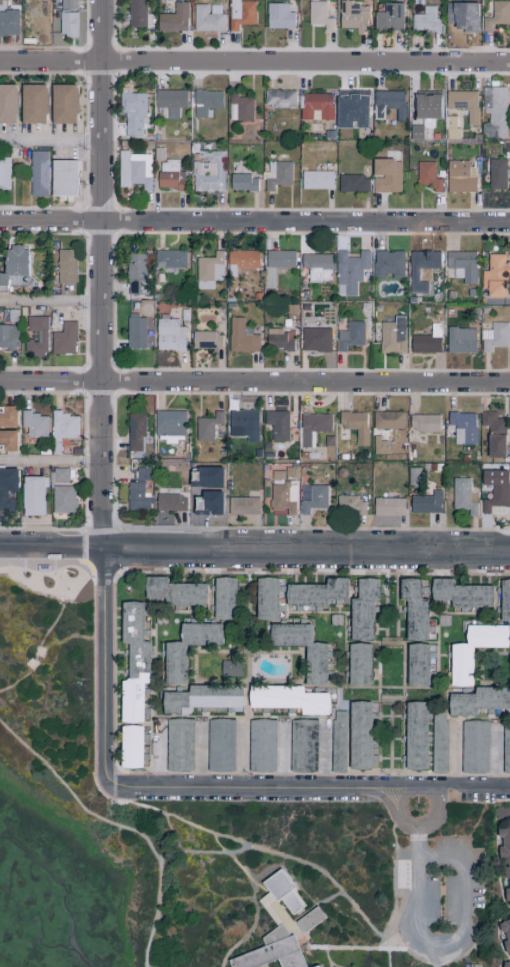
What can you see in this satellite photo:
building: (239, 13)
building: (136, 14)
building: (317, 15)
building: (495, 15)
building: (277, 16)
building: (350, 16)
building: (66, 18)
building: (206, 18)
building: (387, 18)
building: (171, 19)
building: (424, 20)
building: (458, 21)
building: (8, 23)
building: (31, 25)
road: (255, 61)
building: (277, 99)
building: (169, 101)
building: (204, 103)
building: (6, 104)
building: (62, 104)
building: (387, 104)
building: (462, 104)
building: (31, 105)
building: (425, 105)
building: (314, 106)
building: (238, 108)
building: (350, 110)
building: (492, 111)
building: (131, 113)
building: (414, 132)
road: (53, 139)
building: (130, 170)
building: (3, 172)
building: (207, 172)
building: (36, 173)
building: (494, 174)
building: (168, 175)
building: (275, 175)
building: (385, 176)
building: (426, 176)
building: (458, 176)
building: (62, 178)
building: (315, 180)
building: (242, 182)
building: (351, 183)
road: (254, 222)
building: (168, 258)
building: (239, 260)
building: (12, 263)
building: (274, 264)
building: (386, 264)
building: (313, 265)
building: (460, 265)
building: (63, 266)
building: (419, 267)
building: (207, 270)
building: (348, 271)
building: (134, 273)
road: (106, 275)
building: (492, 275)
road: (53, 299)
building: (134, 331)
building: (167, 334)
building: (348, 335)
building: (390, 335)
building: (7, 336)
building: (35, 336)
building: (492, 336)
building: (239, 337)
building: (62, 338)
building: (276, 339)
building: (313, 339)
building: (459, 339)
building: (204, 340)
building: (425, 340)
road: (255, 382)
building: (7, 416)
building: (386, 420)
building: (422, 422)
building: (33, 424)
building: (168, 424)
building: (241, 424)
building: (275, 424)
building: (62, 425)
building: (353, 425)
building: (205, 426)
building: (310, 427)
building: (461, 427)
building: (134, 434)
building: (492, 434)
building: (7, 440)
building: (377, 446)
road: (52, 460)
building: (58, 475)
building: (6, 486)
building: (137, 491)
building: (493, 491)
building: (30, 495)
building: (460, 495)
building: (311, 497)
building: (281, 498)
building: (61, 499)
building: (169, 502)
building: (423, 502)
building: (348, 505)
building: (241, 506)
building: (386, 506)
road: (52, 550)
road: (307, 550)
road: (52, 574)
road: (44, 588)
building: (173, 591)
building: (461, 593)
building: (314, 594)
building: (223, 597)
building: (265, 598)
building: (504, 599)
building: (362, 608)
building: (412, 609)
road: (44, 638)
building: (316, 656)
building: (132, 661)
building: (173, 664)
building: (357, 664)
building: (416, 664)
building: (459, 665)
road: (105, 667)
building: (228, 667)
building: (508, 670)
building: (200, 698)
building: (285, 699)
building: (478, 700)
building: (358, 735)
building: (414, 735)
building: (336, 741)
building: (437, 742)
building: (177, 744)
building: (218, 745)
building: (259, 745)
building: (300, 745)
building: (130, 746)
building: (472, 747)
building: (505, 748)
road: (159, 752)
road: (242, 752)
road: (324, 753)
road: (455, 754)
road: (200, 755)
road: (283, 755)
road: (496, 757)
road: (240, 785)
road: (394, 787)
road: (422, 787)
road: (439, 787)
road: (478, 787)
road: (110, 802)
road: (398, 802)
road: (388, 805)
parking lot: (399, 812)
building: (501, 813)
road: (435, 819)
road: (122, 825)
road: (170, 830)
road: (185, 852)
road: (265, 853)
building: (504, 858)
building: (281, 891)
road: (261, 893)
parking lot: (441, 895)
parking lot: (466, 900)
road: (313, 908)
building: (310, 920)
road: (408, 926)
road: (253, 930)
building: (505, 934)
river: (80, 944)
road: (393, 946)
road: (449, 947)
road: (346, 949)
building: (274, 950)
road: (328, 958)
building: (505, 963)
road: (264, 966)
building: (314, 966)
building: (318, 966)

